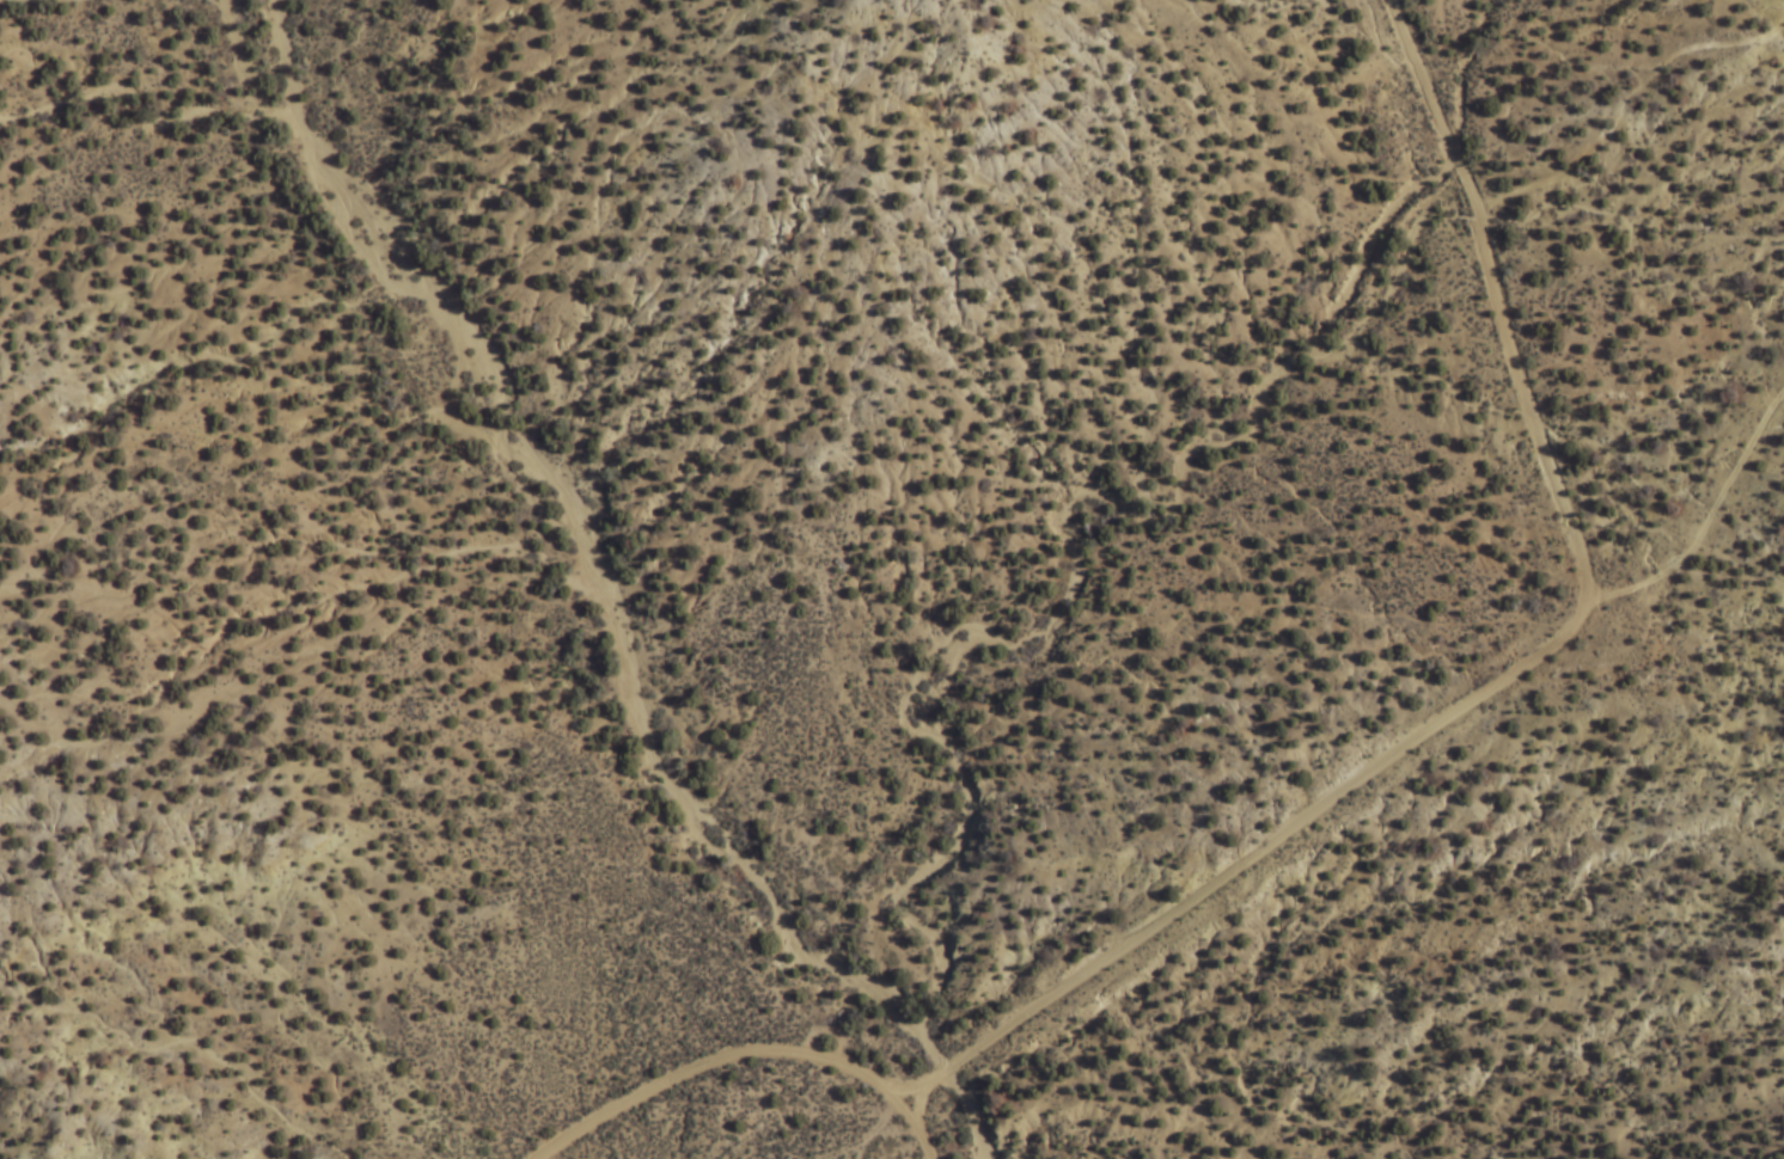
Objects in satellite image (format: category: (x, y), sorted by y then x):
road: (1620, 102)
road: (1705, 520)
road: (1503, 677)
road: (725, 1056)
road: (917, 1104)
road: (866, 1133)
road: (925, 1142)

